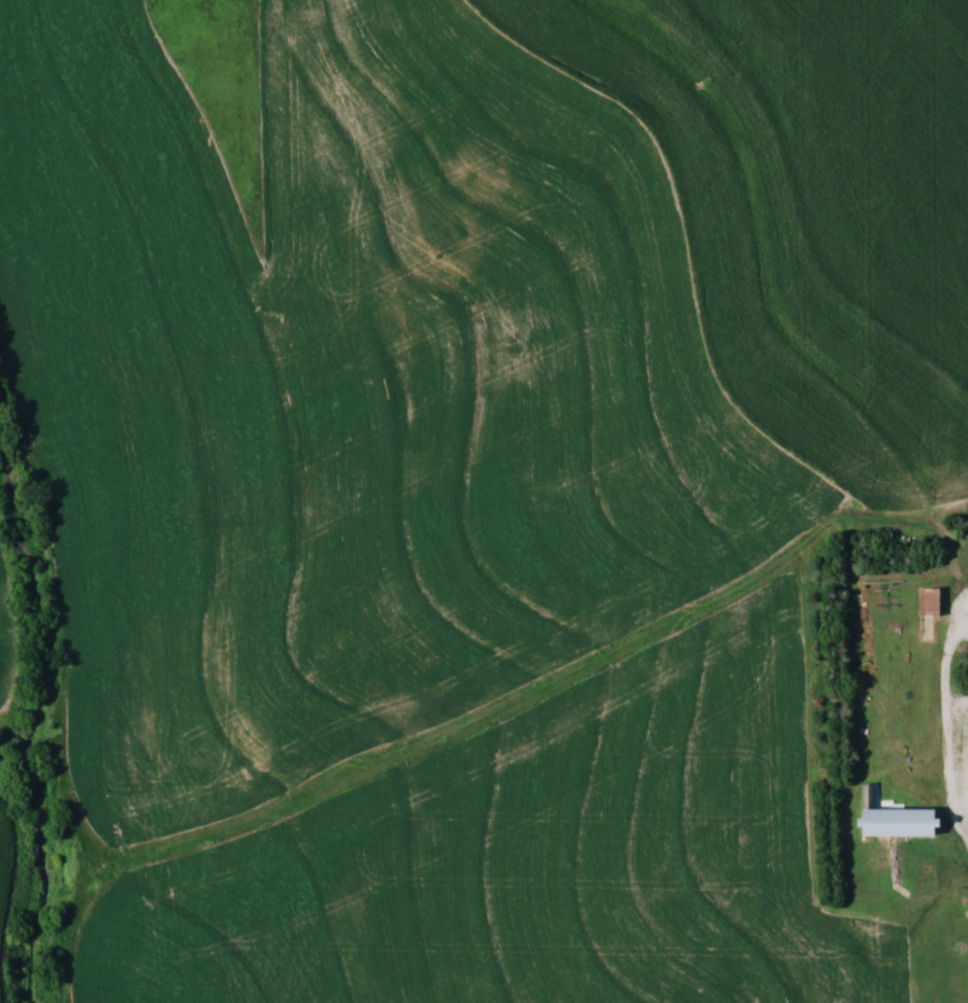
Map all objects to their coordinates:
building: (911, 823)
building: (967, 826)

